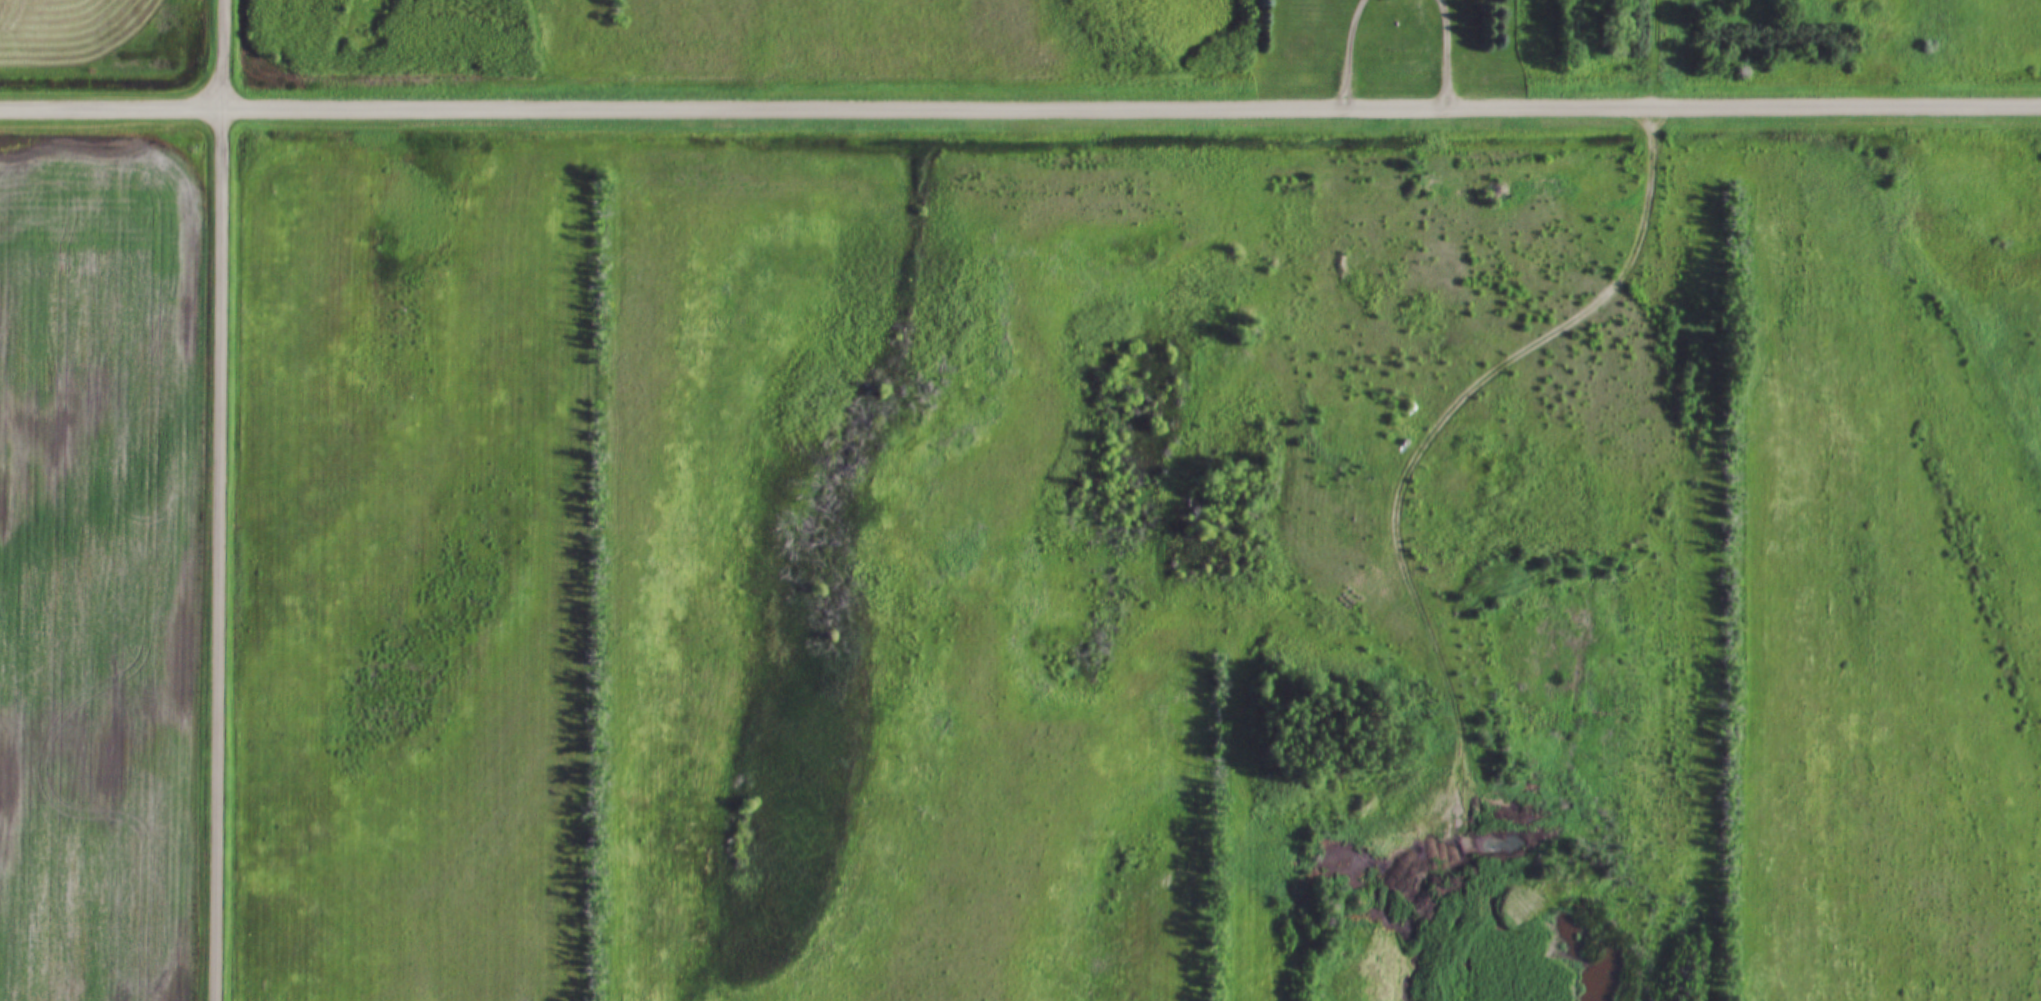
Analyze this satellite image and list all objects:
road: (1354, 53)
road: (1454, 53)
road: (1658, 54)
road: (1020, 108)
road: (224, 500)
road: (1398, 517)
quarry: (1476, 917)

